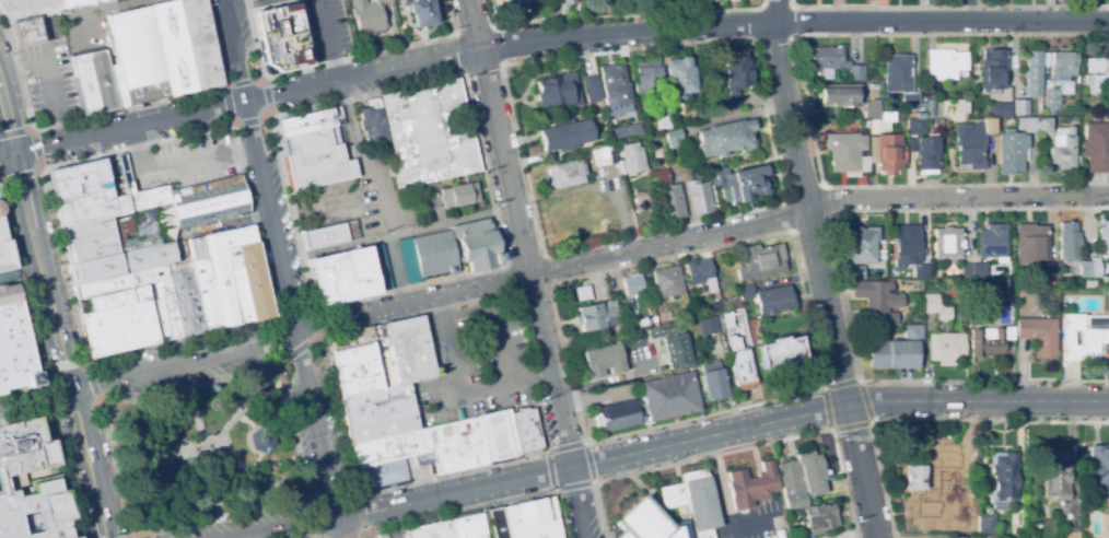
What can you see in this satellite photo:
building: (252, 0)
building: (516, 1)
building: (556, 2)
building: (77, 3)
road: (120, 8)
building: (27, 9)
road: (968, 9)
building: (422, 12)
building: (369, 16)
building: (194, 21)
building: (27, 32)
building: (279, 37)
road: (548, 42)
building: (172, 49)
building: (135, 56)
building: (831, 62)
building: (944, 63)
building: (205, 65)
road: (45, 67)
building: (1062, 70)
building: (989, 72)
building: (1034, 73)
building: (646, 78)
building: (679, 78)
building: (733, 79)
building: (899, 79)
building: (1097, 79)
building: (103, 81)
building: (85, 85)
building: (614, 87)
building: (592, 89)
building: (160, 91)
building: (558, 91)
building: (839, 95)
building: (1051, 101)
building: (929, 105)
building: (961, 106)
building: (1020, 107)
building: (871, 108)
building: (999, 108)
building: (1096, 115)
building: (662, 117)
building: (915, 121)
building: (372, 122)
building: (880, 122)
building: (306, 124)
building: (865, 124)
building: (1027, 125)
building: (988, 126)
building: (626, 130)
building: (565, 131)
building: (428, 134)
building: (725, 138)
building: (673, 139)
road: (350, 140)
building: (311, 141)
building: (969, 145)
building: (1058, 147)
building: (1096, 147)
building: (1011, 151)
building: (845, 153)
building: (886, 153)
building: (925, 154)
building: (604, 155)
building: (632, 157)
building: (315, 159)
building: (680, 172)
building: (565, 173)
building: (324, 175)
building: (79, 179)
building: (742, 182)
building: (459, 195)
road: (381, 196)
building: (668, 197)
building: (698, 197)
building: (208, 202)
building: (430, 203)
building: (90, 208)
road: (212, 225)
building: (87, 232)
building: (330, 234)
road: (399, 234)
building: (229, 238)
building: (1102, 239)
building: (992, 242)
building: (1069, 242)
building: (477, 244)
building: (947, 244)
building: (862, 245)
building: (904, 245)
building: (1028, 245)
building: (4, 246)
building: (91, 249)
building: (247, 256)
building: (434, 256)
building: (407, 261)
building: (760, 261)
building: (121, 262)
road: (586, 262)
building: (341, 264)
road: (282, 268)
road: (529, 268)
road: (818, 269)
building: (1088, 269)
building: (972, 270)
building: (921, 271)
building: (1050, 271)
building: (856, 272)
building: (700, 273)
building: (254, 280)
building: (1105, 280)
building: (667, 281)
building: (120, 282)
building: (237, 283)
building: (919, 283)
building: (632, 284)
building: (1054, 285)
building: (1004, 286)
building: (222, 288)
building: (347, 288)
building: (745, 292)
building: (582, 293)
building: (205, 294)
building: (112, 300)
building: (773, 301)
building: (876, 301)
building: (186, 302)
building: (731, 302)
building: (259, 305)
road: (307, 307)
building: (936, 307)
building: (168, 308)
building: (1004, 309)
building: (628, 311)
building: (155, 312)
building: (686, 312)
road: (51, 313)
building: (970, 314)
building: (664, 315)
building: (596, 316)
building: (726, 319)
building: (136, 325)
building: (708, 326)
building: (102, 332)
building: (1039, 335)
building: (1083, 336)
building: (360, 338)
road: (177, 340)
building: (992, 340)
building: (337, 342)
building: (734, 342)
building: (15, 344)
building: (419, 348)
building: (944, 348)
building: (898, 350)
building: (400, 352)
building: (676, 352)
building: (783, 353)
building: (351, 355)
building: (383, 356)
building: (606, 356)
parking lot: (489, 358)
road: (82, 367)
building: (742, 367)
building: (354, 371)
road: (983, 381)
building: (714, 382)
building: (358, 386)
road: (502, 389)
building: (374, 398)
building: (670, 398)
road: (35, 400)
road: (249, 401)
building: (378, 414)
road: (702, 414)
road: (191, 416)
building: (618, 417)
road: (930, 419)
road: (142, 428)
road: (832, 429)
building: (381, 430)
road: (278, 434)
building: (526, 434)
road: (259, 438)
building: (498, 438)
building: (259, 440)
road: (676, 444)
road: (182, 447)
building: (457, 447)
building: (22, 448)
road: (546, 448)
road: (737, 448)
building: (389, 449)
park: (206, 451)
road: (547, 453)
building: (969, 453)
road: (60, 455)
fountain: (202, 456)
road: (152, 466)
building: (393, 472)
building: (1098, 472)
building: (814, 475)
building: (1057, 476)
road: (267, 477)
building: (367, 478)
building: (1003, 479)
building: (751, 486)
building: (791, 486)
road: (210, 492)
road: (343, 493)
building: (693, 501)
road: (159, 504)
road: (479, 506)
building: (35, 512)
building: (942, 516)
building: (532, 519)
building: (817, 519)
building: (985, 522)
building: (646, 523)
building: (497, 524)
building: (467, 527)
building: (428, 531)
building: (1069, 534)
building: (990, 536)
road: (130, 537)
building: (957, 537)

